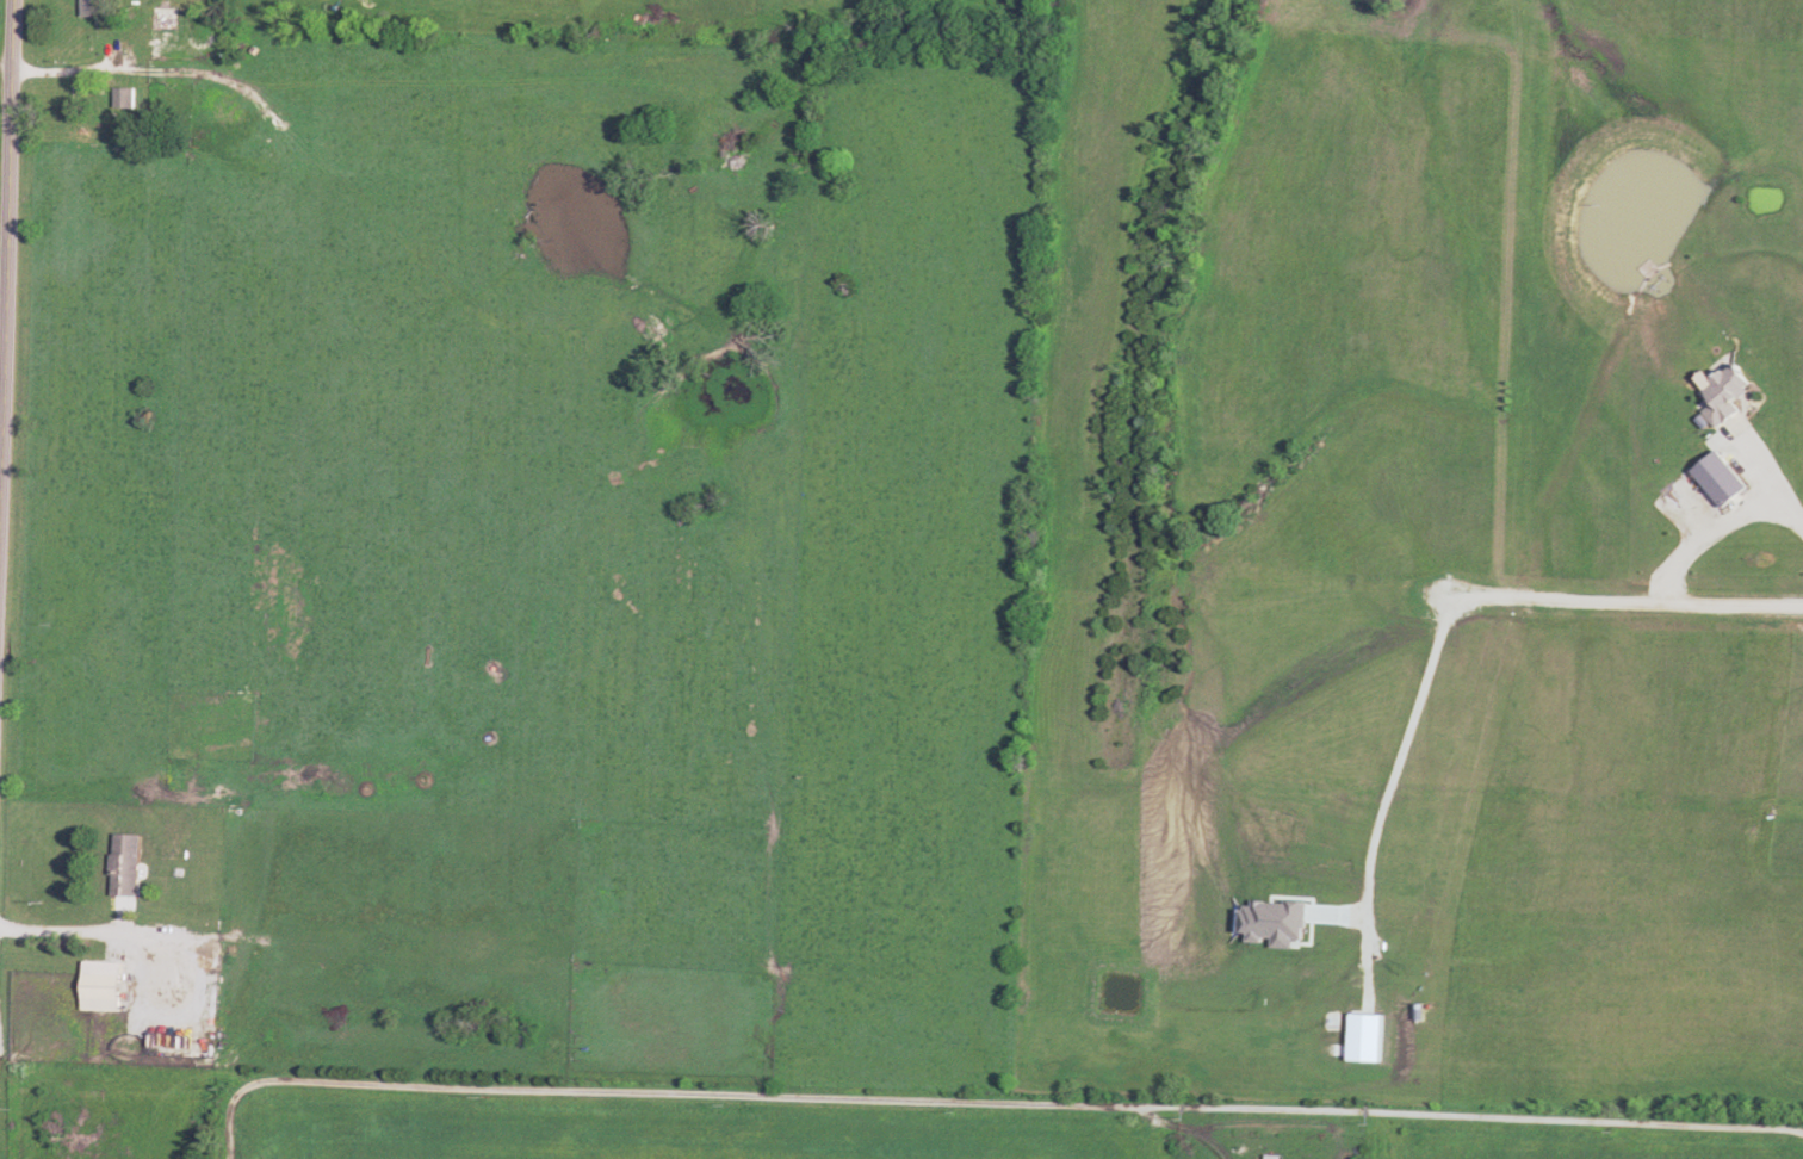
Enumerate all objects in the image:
building: (98, 7)
building: (167, 23)
building: (126, 97)
road: (7, 234)
building: (1721, 392)
road: (1715, 527)
road: (1607, 606)
road: (1399, 755)
building: (126, 863)
road: (61, 928)
building: (103, 991)
road: (985, 1096)
road: (1184, 1122)

